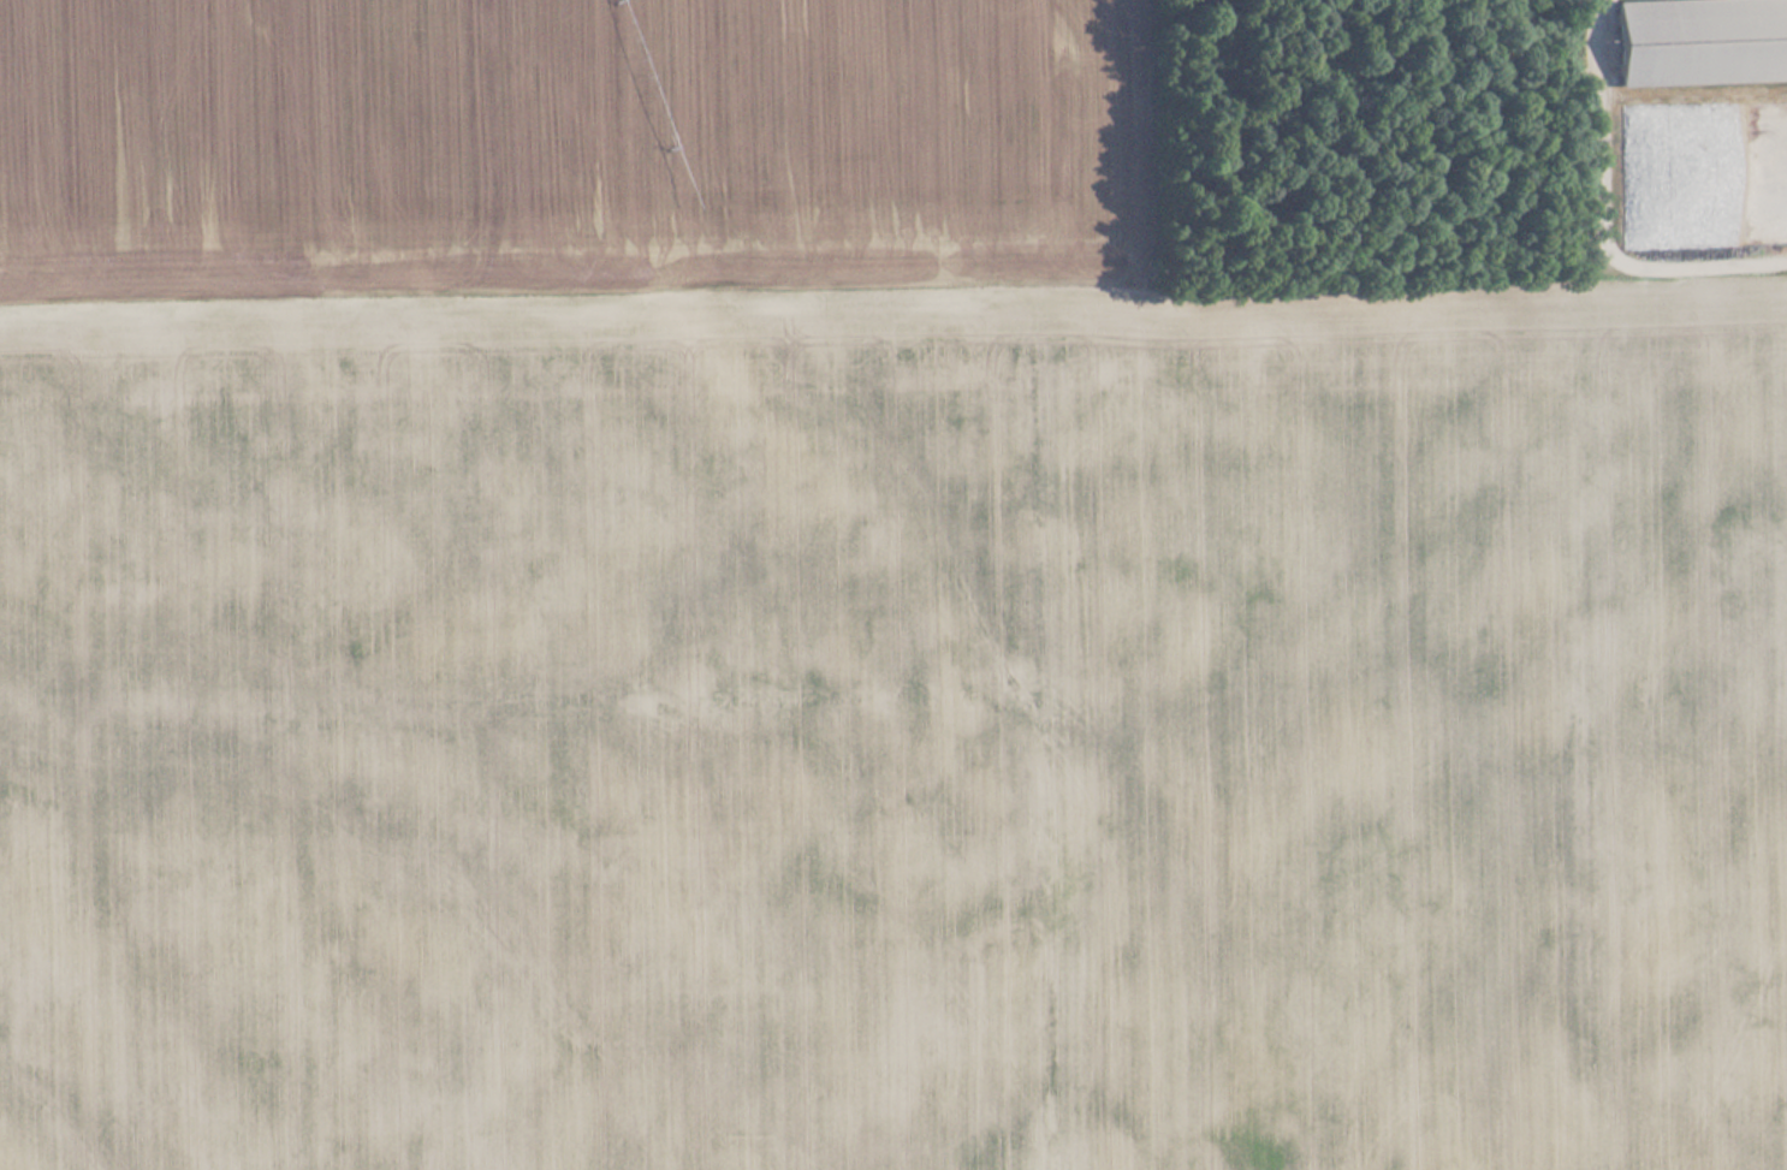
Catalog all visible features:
building: (1699, 41)
building: (1756, 177)
road: (1595, 218)

